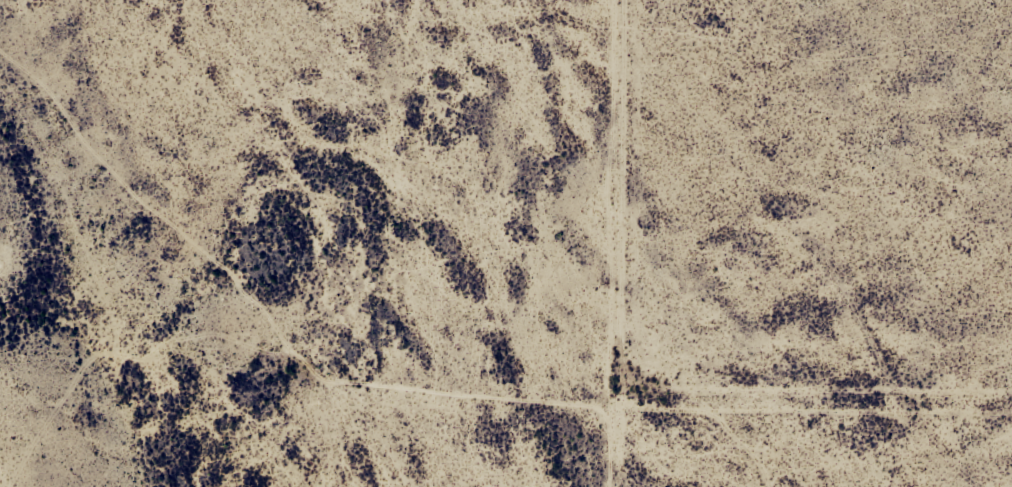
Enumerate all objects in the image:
road: (845, 407)

